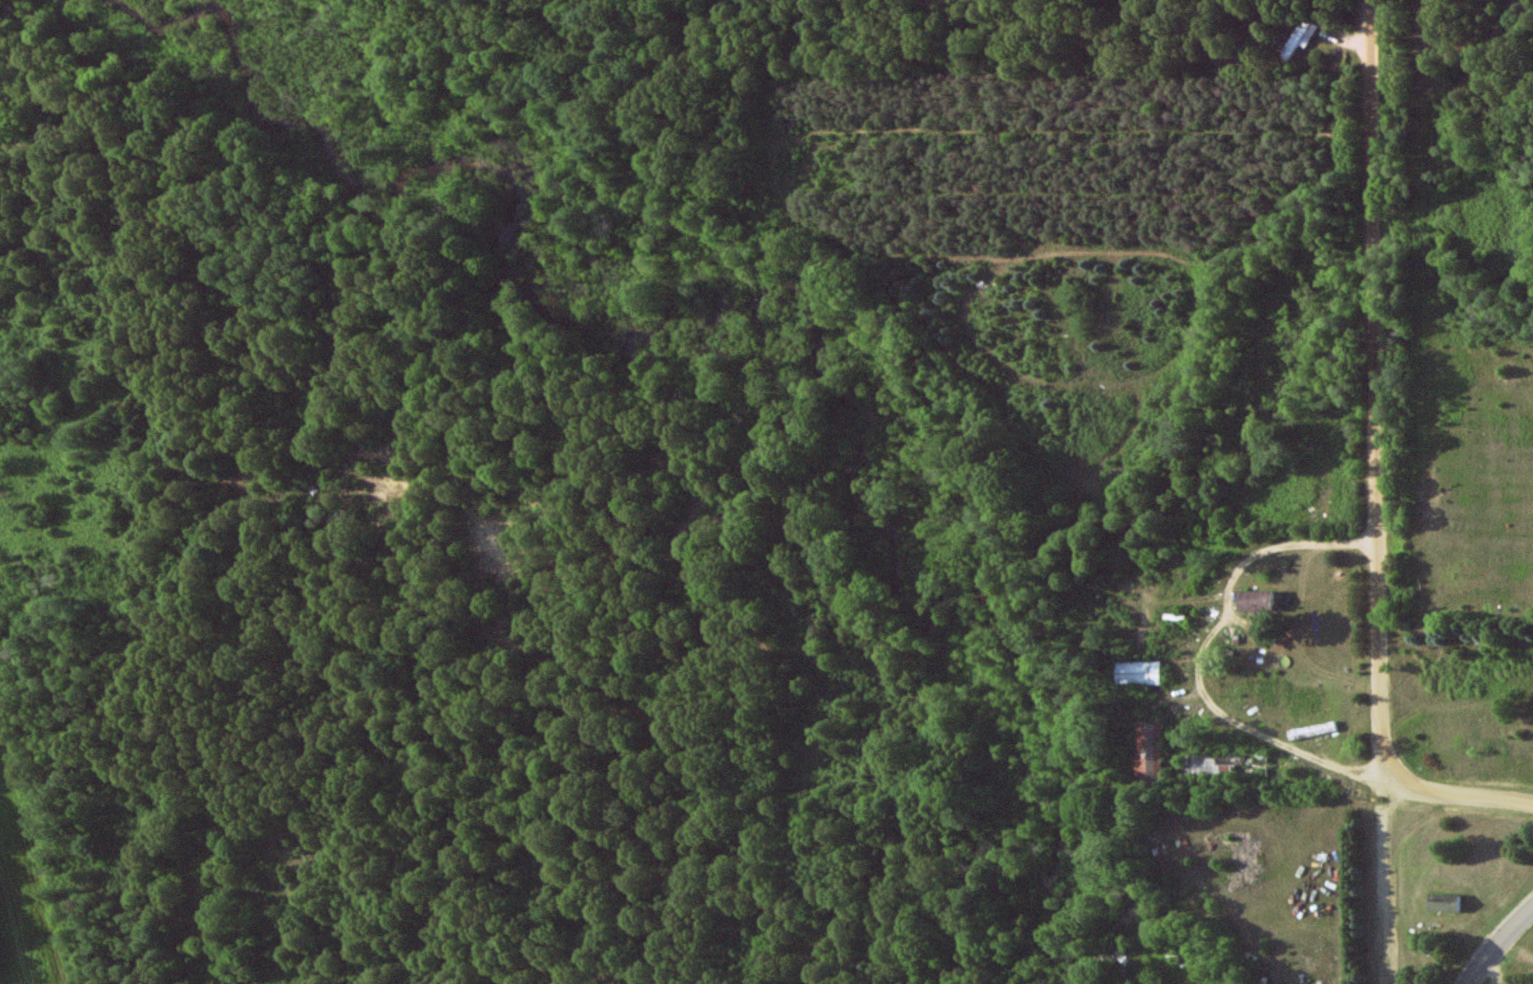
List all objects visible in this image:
building: (1301, 37)
road: (1377, 492)
building: (1255, 599)
road: (1206, 650)
building: (1139, 673)
building: (1151, 749)
building: (1207, 765)
road: (1458, 802)
building: (1444, 902)
road: (1498, 945)

